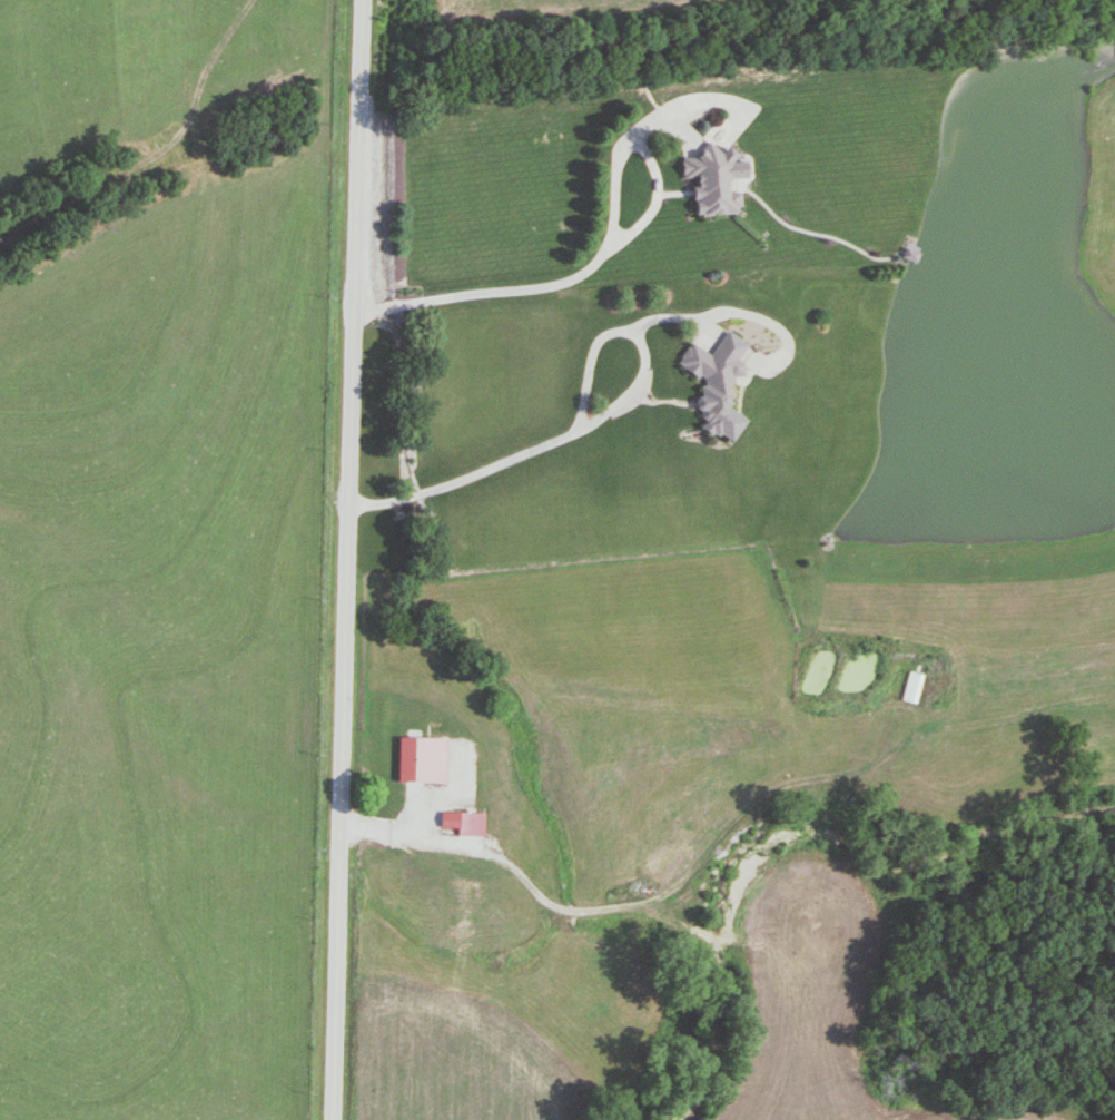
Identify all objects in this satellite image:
building: (712, 180)
road: (603, 247)
building: (714, 384)
road: (578, 419)
road: (345, 559)
building: (909, 688)
building: (405, 768)
building: (497, 789)
building: (455, 823)
building: (460, 908)

